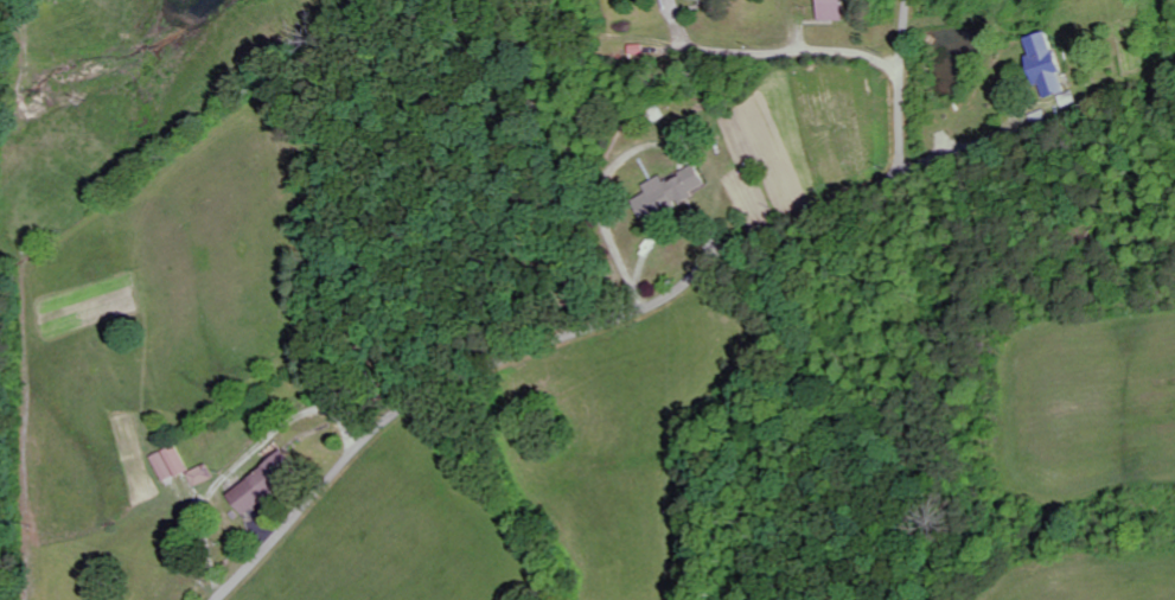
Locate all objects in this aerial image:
building: (709, 0)
building: (835, 11)
building: (1048, 66)
building: (677, 194)
road: (613, 320)
building: (172, 462)
building: (203, 474)

